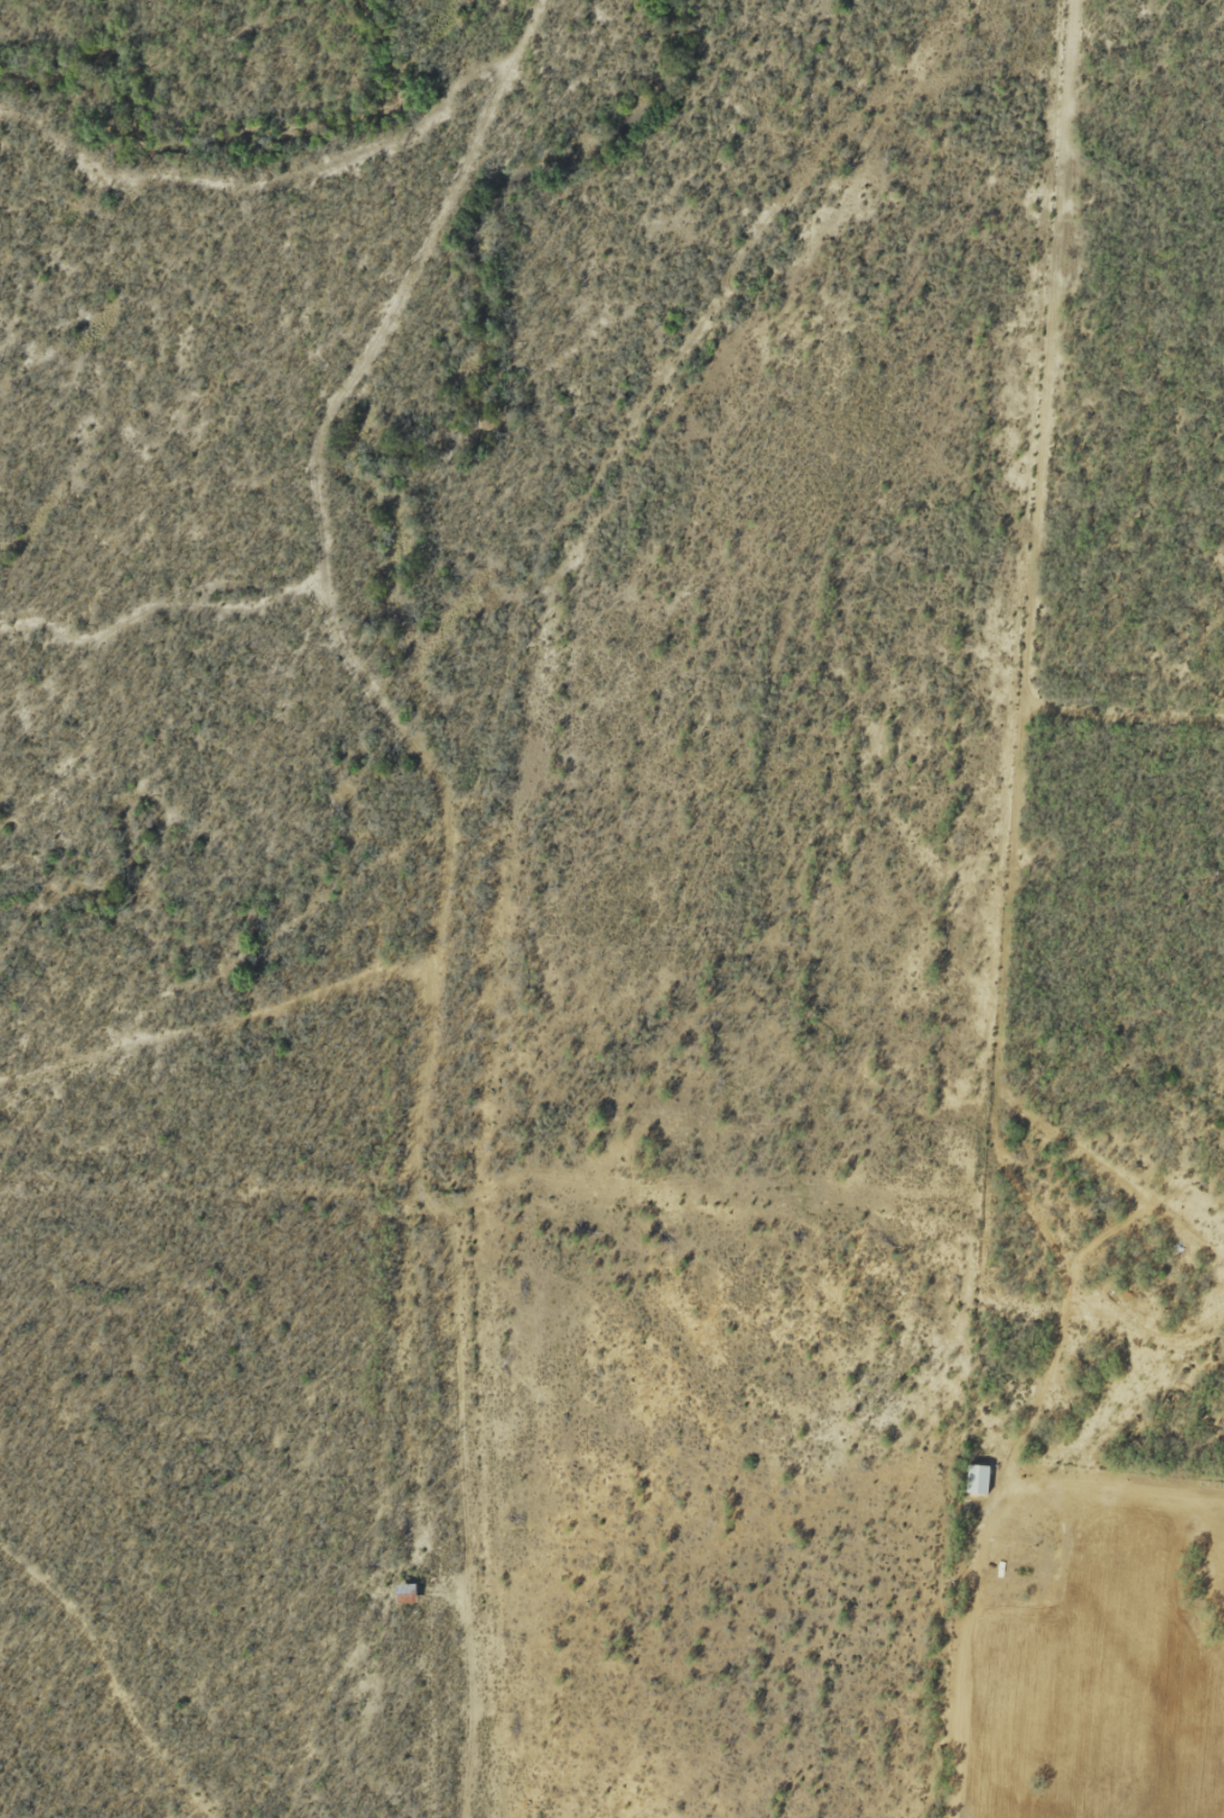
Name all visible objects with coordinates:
building: (974, 1481)
building: (1024, 1558)
road: (962, 1684)

